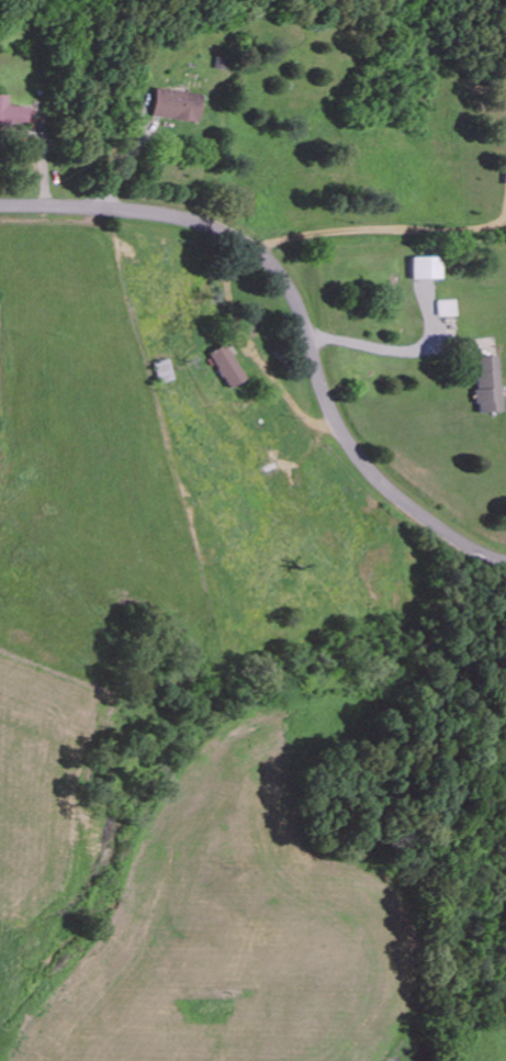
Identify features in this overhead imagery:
building: (176, 104)
building: (13, 114)
building: (426, 267)
road: (294, 312)
building: (226, 365)
building: (487, 383)

